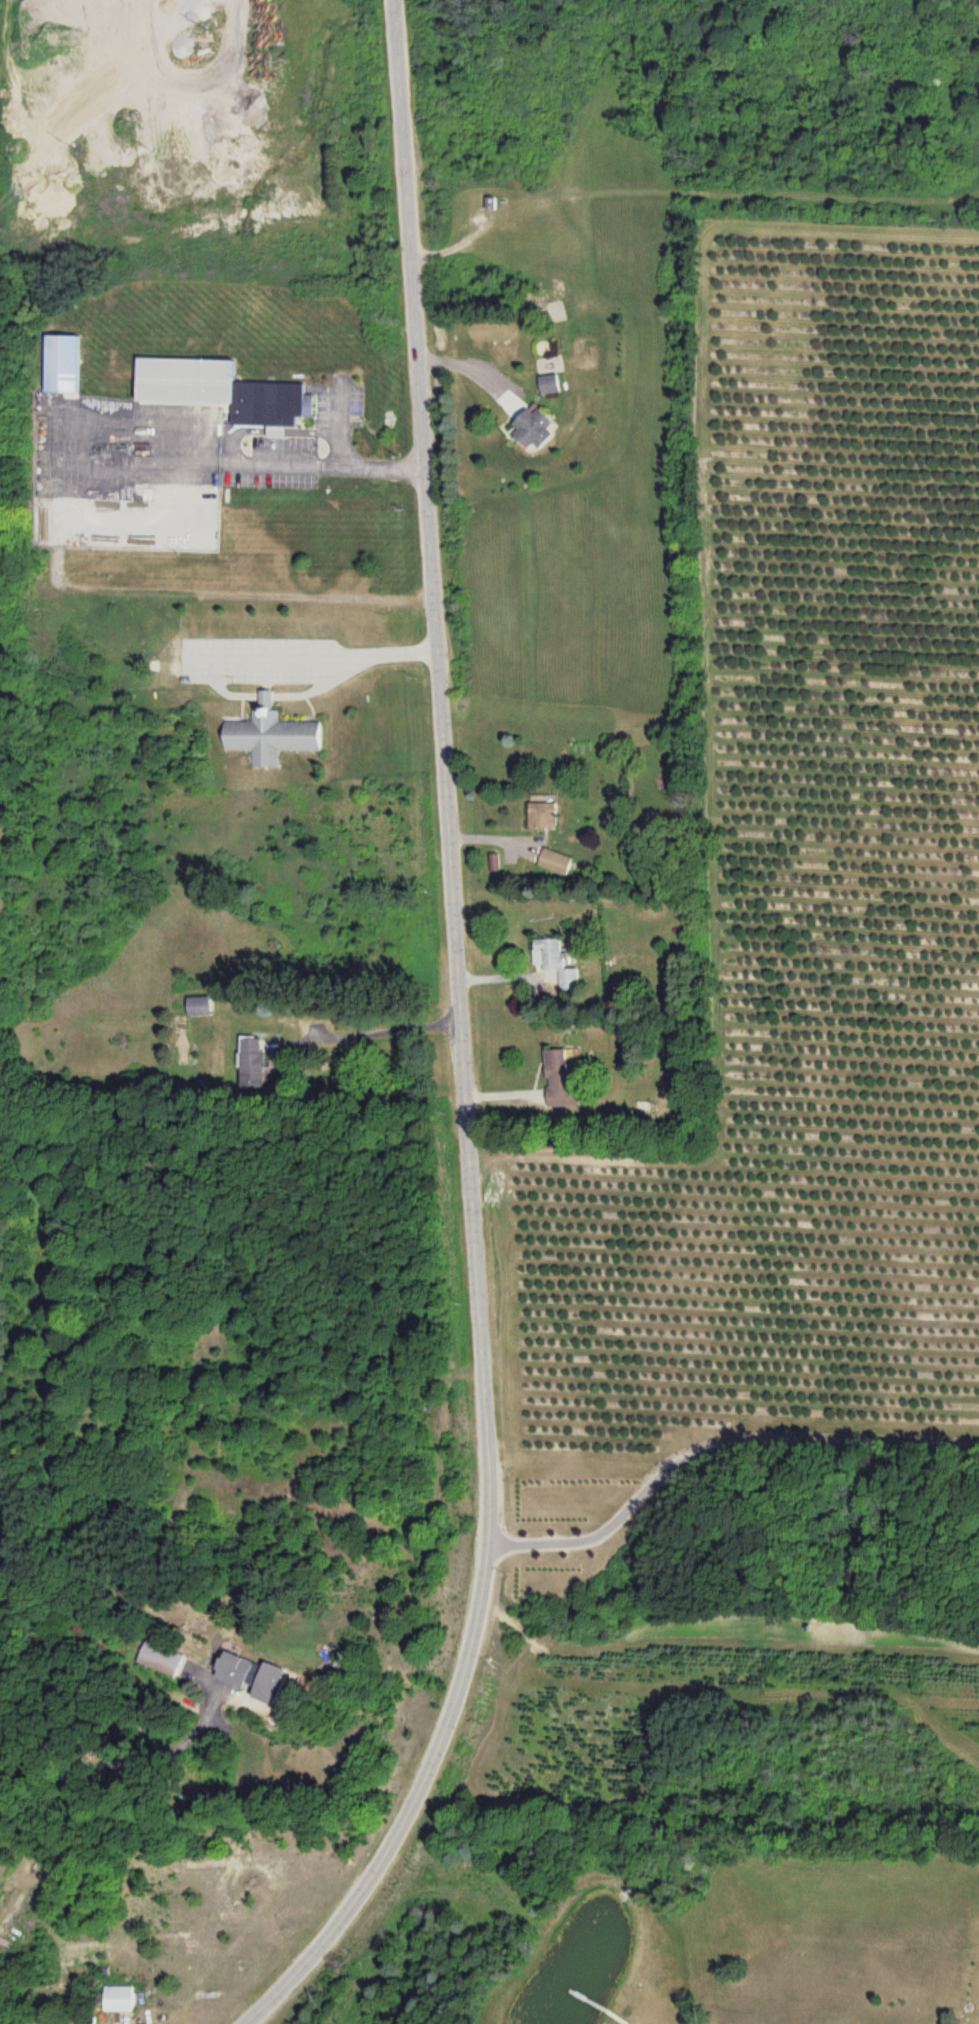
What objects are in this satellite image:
building: (66, 367)
building: (548, 385)
building: (224, 393)
building: (535, 430)
building: (272, 737)
building: (544, 816)
building: (556, 864)
building: (548, 958)
building: (199, 1008)
road: (458, 1046)
building: (253, 1065)
building: (560, 1083)
building: (259, 1681)
building: (119, 2000)
building: (82, 2023)

